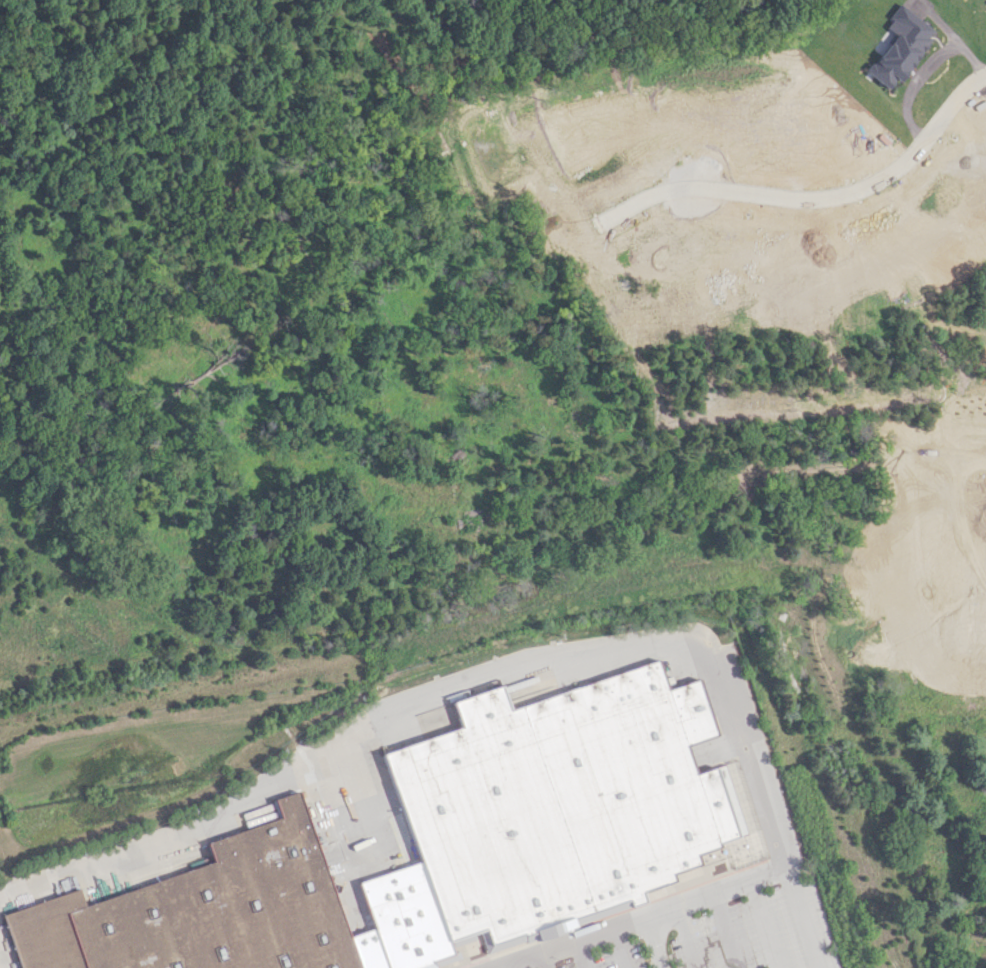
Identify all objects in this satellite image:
road: (817, 188)
road: (449, 685)
building: (513, 819)
raceway: (748, 823)
building: (200, 911)
road: (802, 913)
building: (403, 917)
road: (637, 918)
road: (766, 923)
road: (727, 930)
parking lot: (765, 932)
road: (689, 936)
road: (651, 942)
road: (619, 947)
road: (580, 954)
parking lot: (612, 957)
road: (544, 960)
road: (500, 967)

